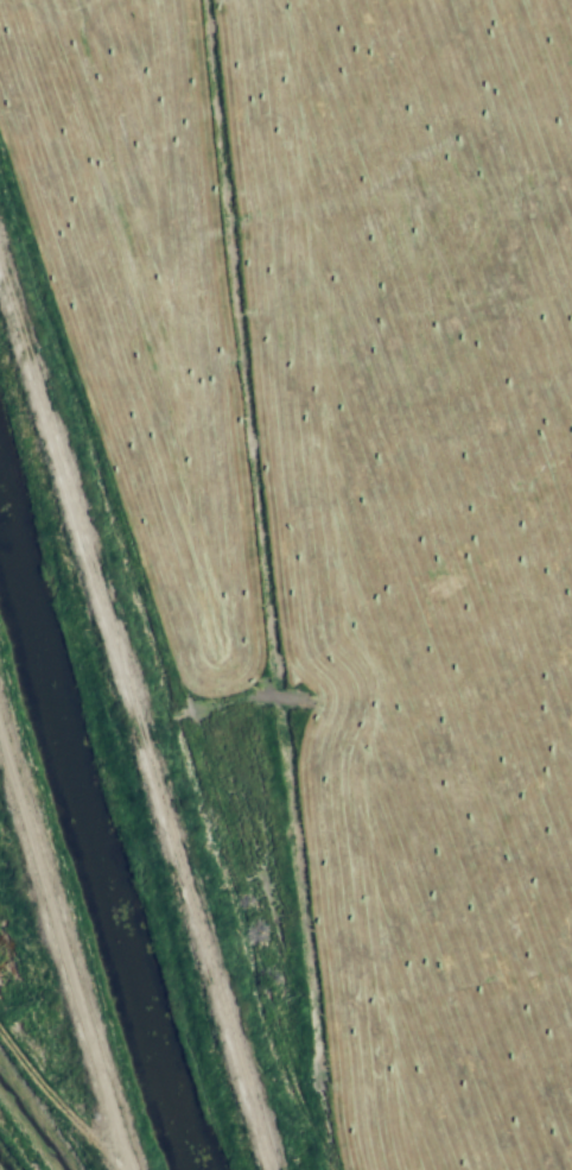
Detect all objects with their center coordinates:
river: (95, 884)
road: (62, 960)

